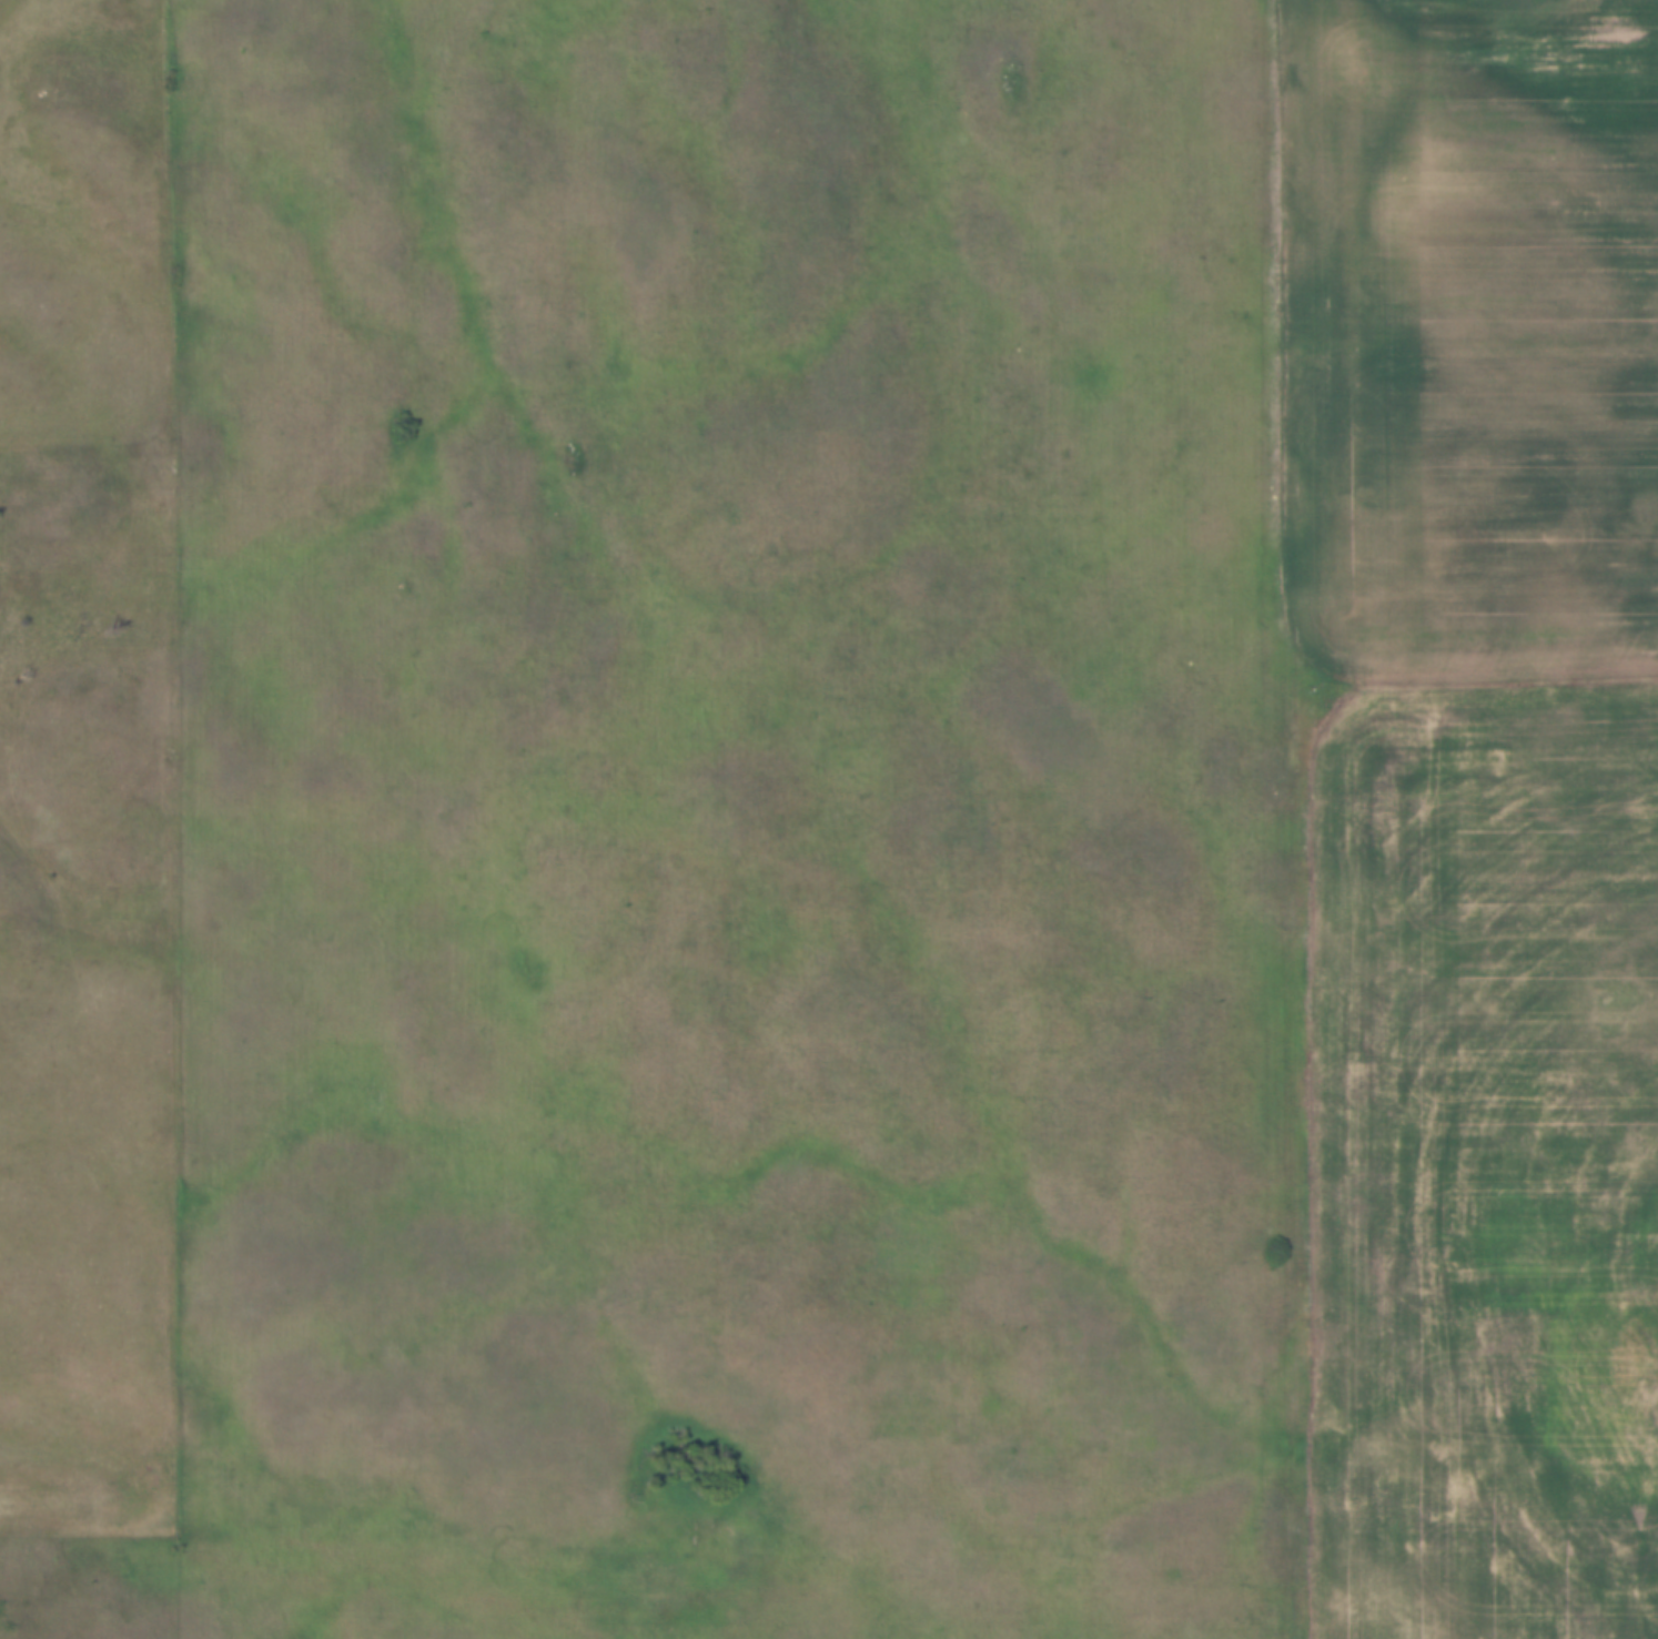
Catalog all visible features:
road: (1295, 819)

